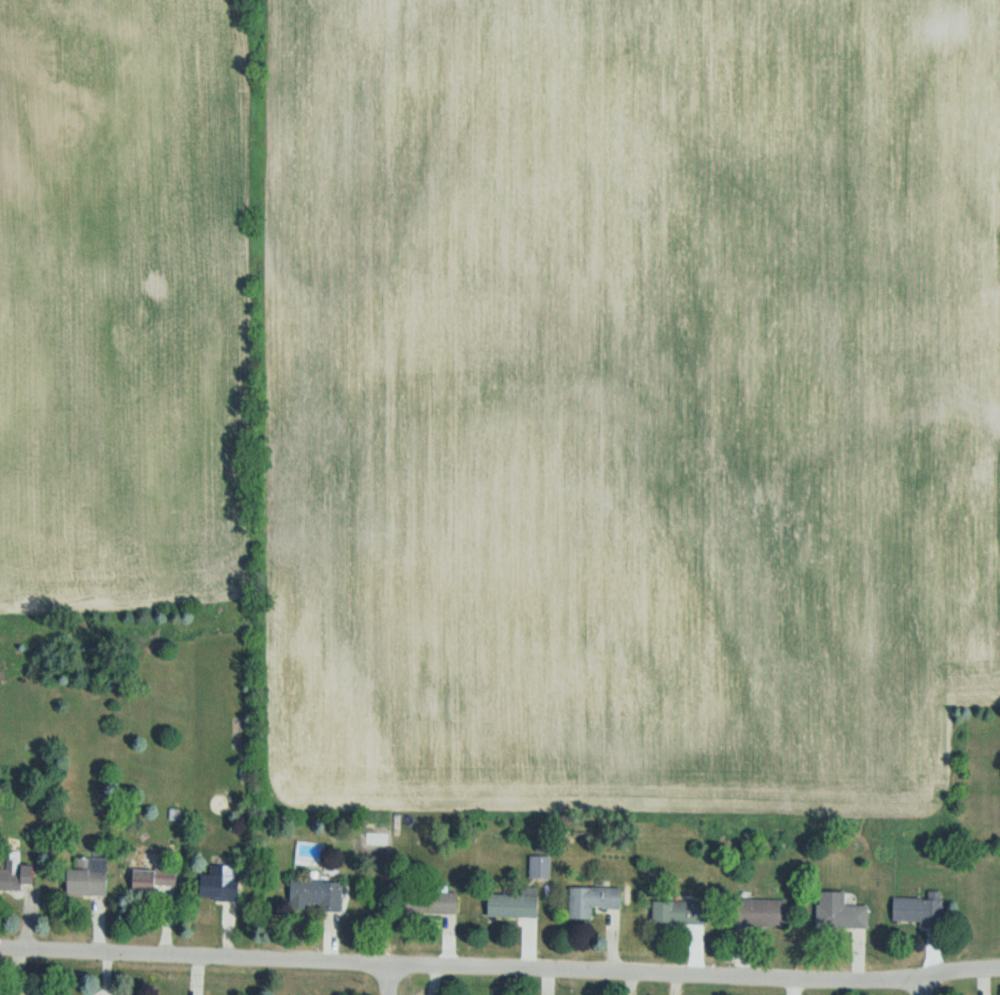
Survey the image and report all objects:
crop: (501, 409)
building: (541, 867)
building: (17, 874)
building: (90, 878)
building: (223, 882)
building: (318, 895)
building: (595, 900)
building: (435, 902)
building: (516, 904)
building: (920, 909)
building: (681, 911)
building: (766, 912)
building: (842, 912)
road: (502, 966)
road: (388, 979)
road: (914, 990)

